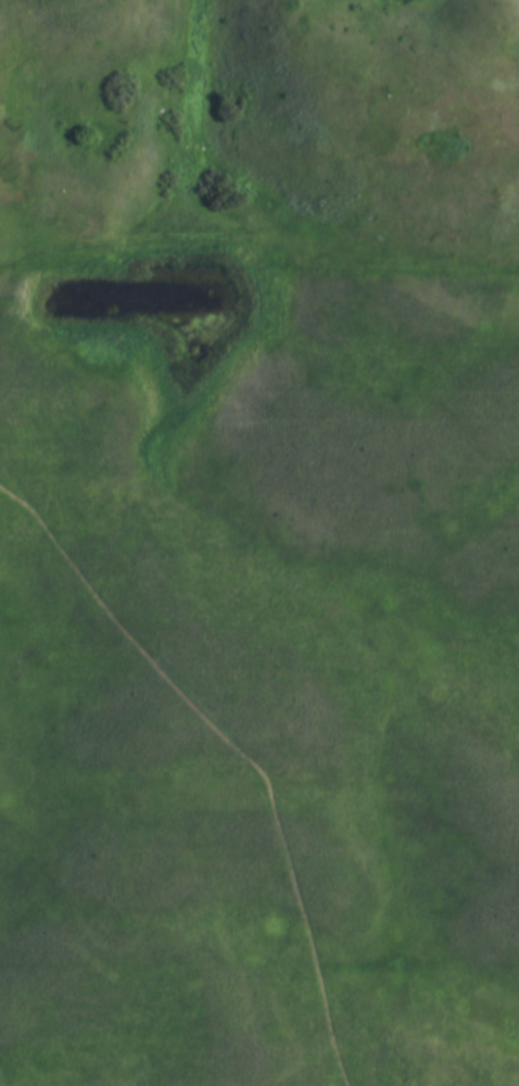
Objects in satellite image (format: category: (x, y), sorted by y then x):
road: (506, 881)
road: (498, 1060)

